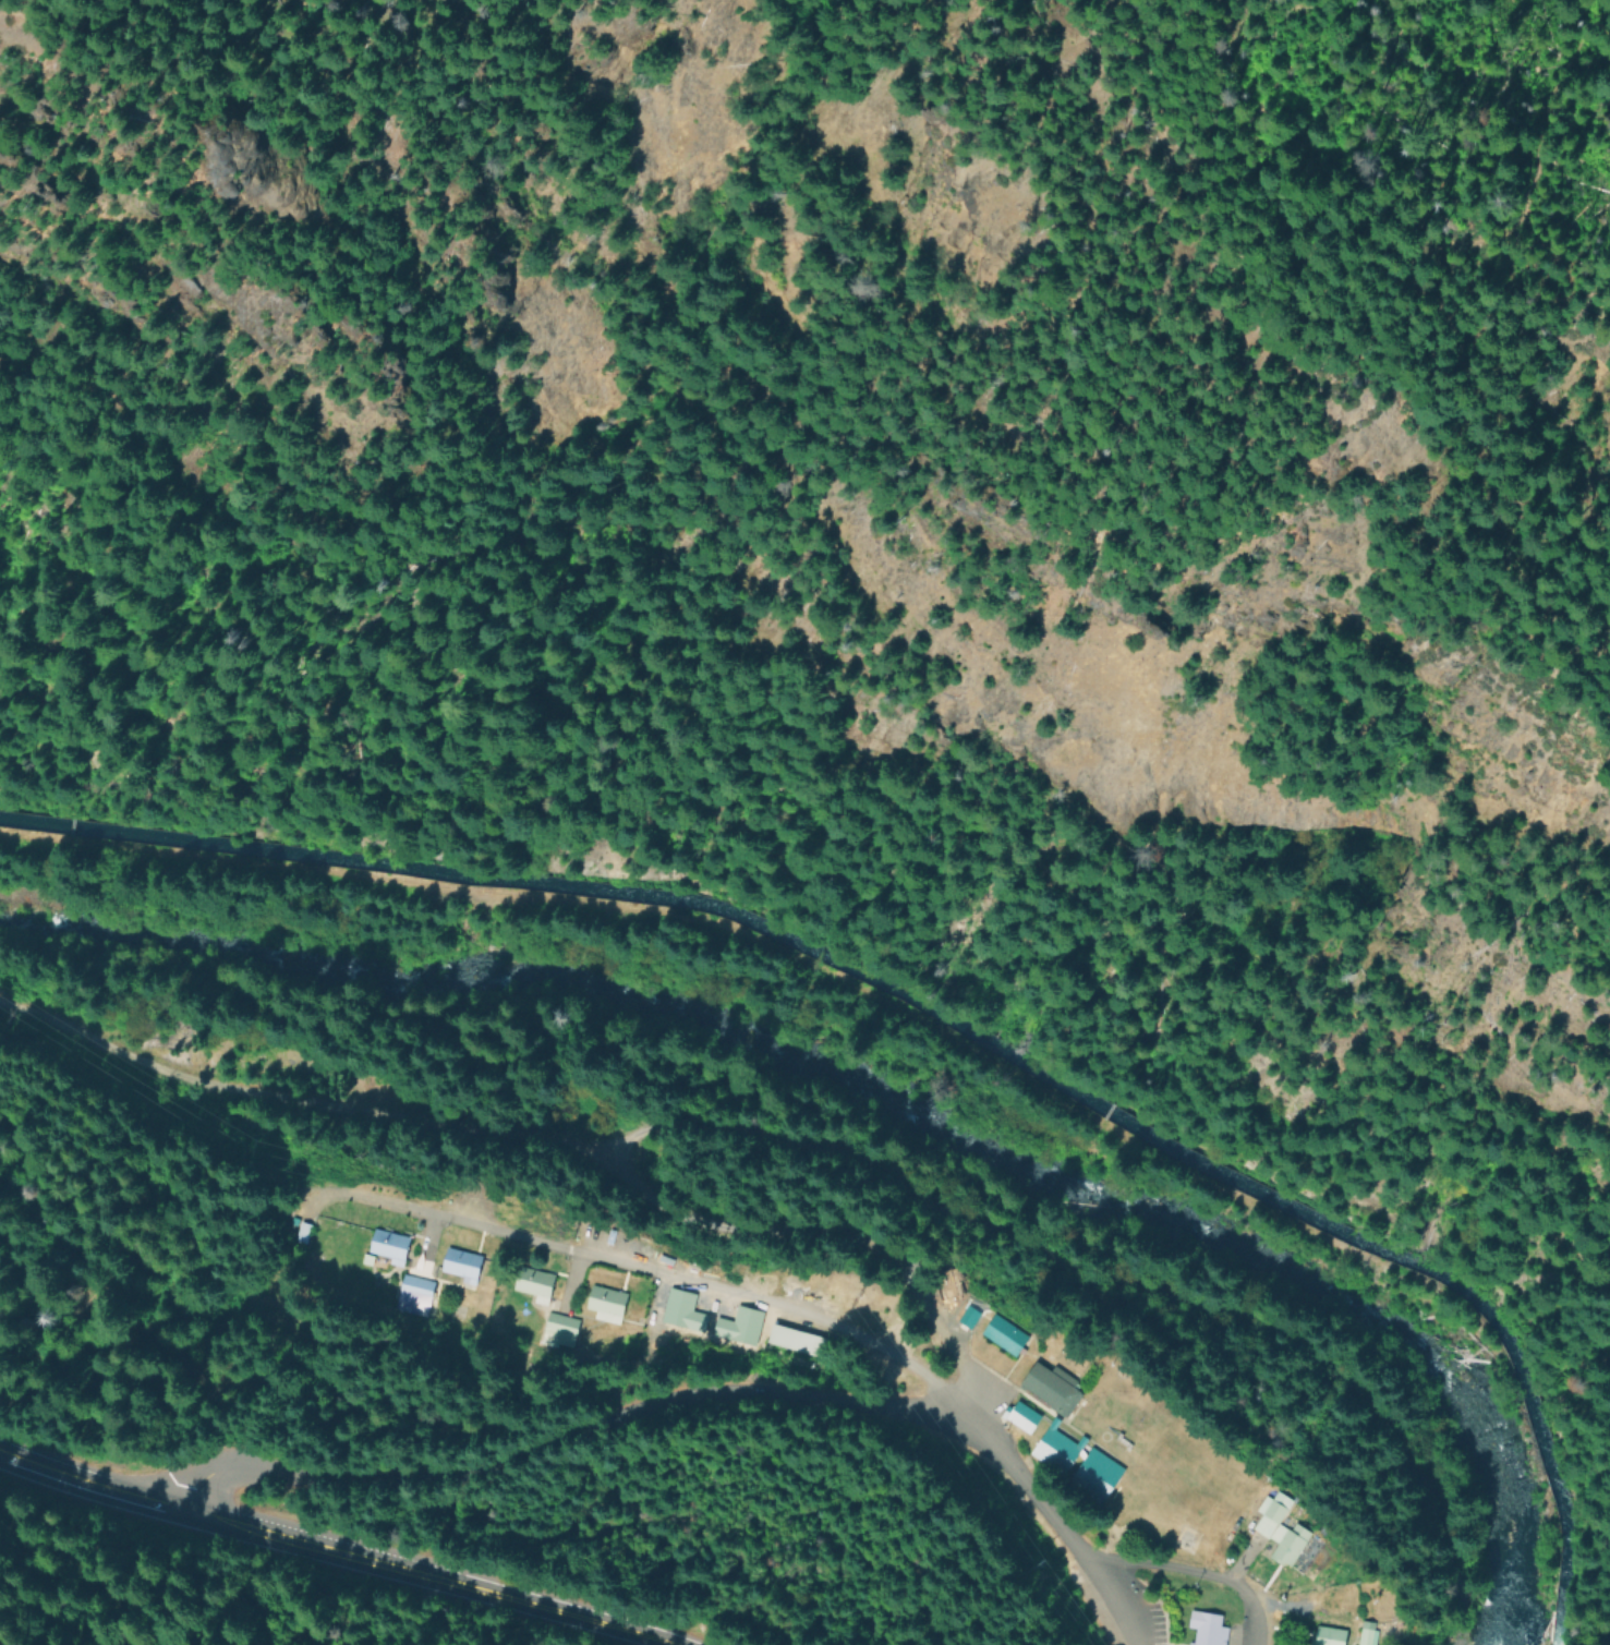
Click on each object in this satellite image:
road: (1364, 281)
road: (792, 960)
river: (883, 1103)
road: (566, 1137)
power tower: (249, 1147)
building: (301, 1234)
building: (387, 1247)
building: (459, 1266)
building: (530, 1284)
building: (949, 1284)
building: (411, 1299)
building: (602, 1305)
road: (779, 1306)
building: (733, 1325)
building: (554, 1334)
building: (1003, 1336)
building: (788, 1345)
building: (1052, 1389)
building: (1022, 1416)
road: (570, 1444)
building: (1051, 1456)
building: (1094, 1474)
building: (1284, 1529)
road: (329, 1552)
road: (1246, 1563)
road: (1196, 1575)
building: (1205, 1629)
building: (1375, 1635)
building: (1334, 1636)

